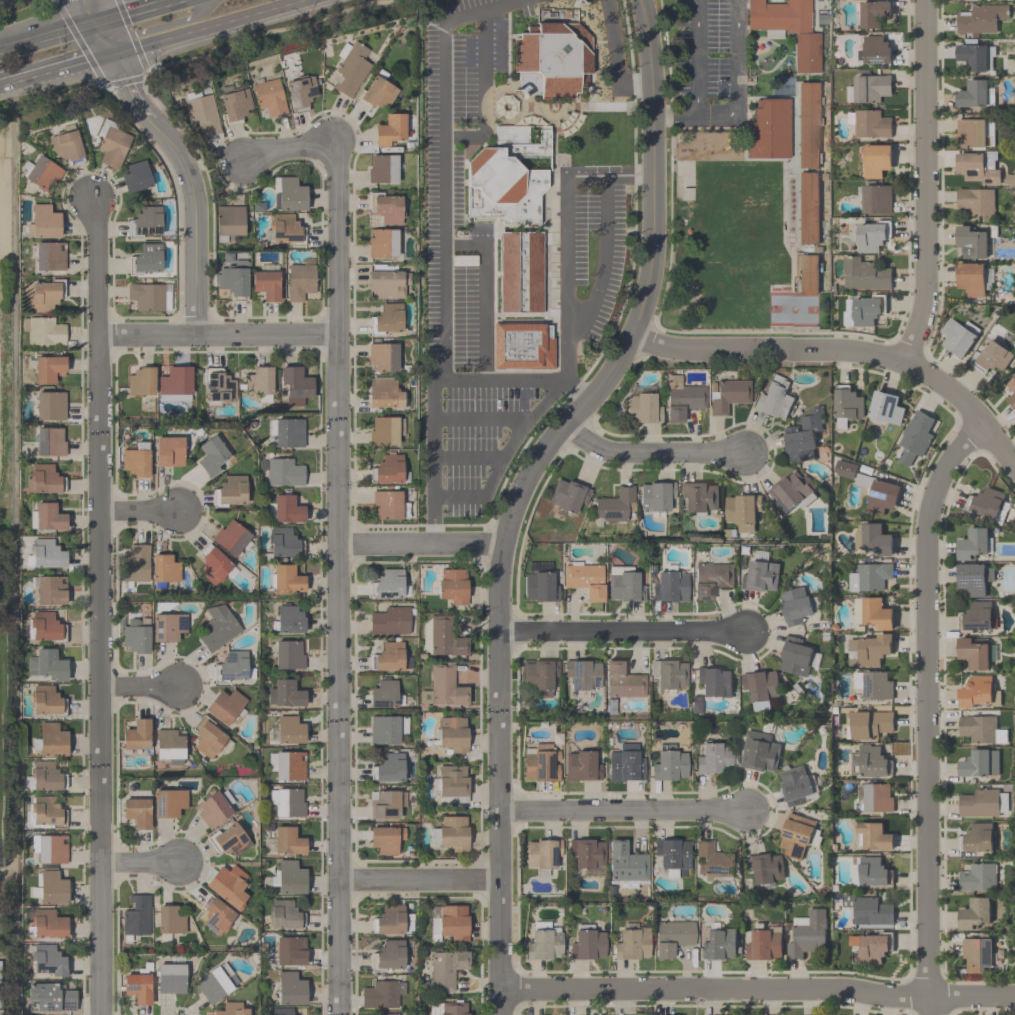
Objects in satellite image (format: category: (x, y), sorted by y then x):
road: (85, 10)
road: (96, 10)
road: (134, 10)
building: (872, 13)
building: (779, 17)
building: (981, 17)
traffic signals: (98, 21)
road: (160, 25)
road: (212, 27)
road: (49, 35)
road: (106, 38)
building: (874, 49)
building: (807, 53)
traffic signals: (114, 55)
road: (614, 55)
building: (975, 56)
building: (351, 70)
road: (57, 71)
building: (870, 87)
building: (302, 92)
building: (378, 93)
road: (484, 93)
building: (972, 93)
building: (267, 97)
building: (235, 104)
road: (673, 113)
road: (715, 113)
building: (202, 115)
building: (869, 122)
building: (807, 125)
building: (767, 129)
building: (390, 130)
building: (974, 132)
building: (66, 146)
building: (115, 147)
road: (284, 149)
building: (876, 159)
building: (978, 166)
building: (383, 170)
building: (43, 174)
road: (637, 174)
building: (136, 177)
road: (915, 179)
road: (186, 184)
building: (529, 186)
building: (289, 194)
building: (876, 199)
building: (977, 200)
building: (801, 208)
building: (389, 209)
building: (41, 221)
building: (230, 221)
building: (147, 222)
building: (285, 228)
building: (872, 235)
building: (971, 241)
building: (382, 243)
road: (442, 246)
building: (47, 256)
road: (603, 256)
building: (147, 259)
building: (809, 273)
building: (865, 273)
building: (971, 278)
building: (233, 281)
building: (300, 281)
building: (386, 284)
building: (267, 286)
road: (485, 290)
building: (44, 296)
building: (149, 296)
building: (863, 309)
building: (389, 319)
building: (42, 331)
road: (214, 334)
building: (957, 336)
road: (567, 349)
road: (847, 351)
building: (991, 356)
building: (383, 357)
building: (48, 370)
road: (515, 379)
building: (138, 383)
building: (173, 383)
building: (260, 383)
building: (296, 386)
building: (217, 388)
building: (1012, 388)
building: (384, 394)
building: (728, 396)
building: (681, 398)
building: (774, 398)
building: (847, 404)
building: (50, 407)
building: (885, 407)
building: (641, 408)
road: (479, 422)
building: (382, 432)
building: (288, 433)
building: (803, 434)
building: (914, 437)
building: (49, 442)
building: (167, 451)
road: (650, 453)
building: (210, 456)
road: (469, 458)
building: (135, 460)
building: (844, 468)
building: (386, 470)
building: (284, 473)
building: (42, 479)
road: (521, 489)
building: (232, 490)
building: (792, 492)
building: (878, 493)
building: (568, 495)
building: (655, 496)
building: (700, 496)
building: (386, 504)
building: (988, 504)
building: (614, 506)
building: (286, 510)
building: (742, 510)
road: (137, 512)
building: (47, 517)
building: (231, 537)
building: (873, 538)
building: (283, 542)
road: (419, 542)
building: (973, 542)
building: (46, 554)
building: (212, 565)
building: (135, 566)
building: (162, 568)
building: (761, 572)
building: (869, 576)
building: (974, 577)
building: (710, 578)
road: (336, 579)
building: (288, 580)
building: (584, 580)
building: (539, 583)
building: (389, 584)
building: (625, 585)
building: (453, 586)
building: (669, 586)
building: (48, 589)
building: (797, 604)
road: (99, 605)
building: (872, 612)
building: (977, 616)
building: (288, 620)
building: (390, 621)
building: (45, 626)
building: (167, 627)
building: (218, 628)
road: (619, 631)
building: (441, 637)
building: (136, 639)
building: (869, 649)
building: (973, 652)
building: (287, 655)
building: (795, 655)
building: (393, 658)
building: (234, 665)
building: (46, 667)
building: (668, 673)
building: (539, 676)
building: (582, 676)
building: (713, 681)
building: (622, 682)
building: (873, 683)
building: (442, 687)
building: (760, 687)
road: (139, 688)
building: (978, 691)
building: (285, 694)
building: (382, 694)
road: (923, 700)
building: (45, 701)
building: (224, 706)
building: (868, 723)
building: (980, 728)
building: (387, 729)
building: (286, 730)
building: (450, 734)
building: (137, 736)
building: (51, 740)
building: (208, 740)
building: (170, 745)
building: (760, 750)
building: (712, 758)
building: (869, 761)
building: (979, 762)
building: (540, 763)
building: (624, 764)
building: (668, 765)
building: (289, 766)
building: (581, 766)
building: (388, 767)
building: (45, 776)
building: (450, 783)
building: (796, 783)
building: (874, 797)
building: (982, 802)
building: (167, 803)
building: (288, 803)
building: (385, 804)
building: (214, 808)
road: (623, 810)
building: (136, 812)
building: (44, 813)
building: (450, 833)
building: (797, 834)
building: (873, 836)
building: (977, 837)
building: (385, 839)
building: (228, 840)
building: (287, 841)
building: (51, 850)
building: (542, 853)
building: (585, 853)
building: (672, 857)
building: (713, 860)
road: (137, 864)
building: (625, 866)
building: (765, 866)
building: (869, 869)
building: (288, 877)
building: (978, 877)
road: (416, 879)
building: (227, 885)
building: (51, 888)
building: (868, 910)
building: (974, 913)
building: (215, 915)
building: (283, 915)
building: (136, 917)
building: (388, 920)
building: (168, 922)
building: (449, 923)
building: (46, 925)
building: (807, 933)
building: (671, 937)
building: (542, 942)
building: (586, 943)
building: (763, 943)
building: (631, 944)
building: (718, 944)
building: (872, 947)
building: (289, 951)
building: (388, 954)
building: (976, 954)
building: (48, 961)
building: (445, 969)
building: (169, 978)
building: (213, 984)
building: (136, 986)
building: (290, 988)
road: (757, 992)
building: (381, 994)
building: (51, 997)
building: (0, 1000)
road: (925, 1003)
building: (453, 1008)
building: (231, 1009)
building: (281, 1011)
building: (388, 1014)

